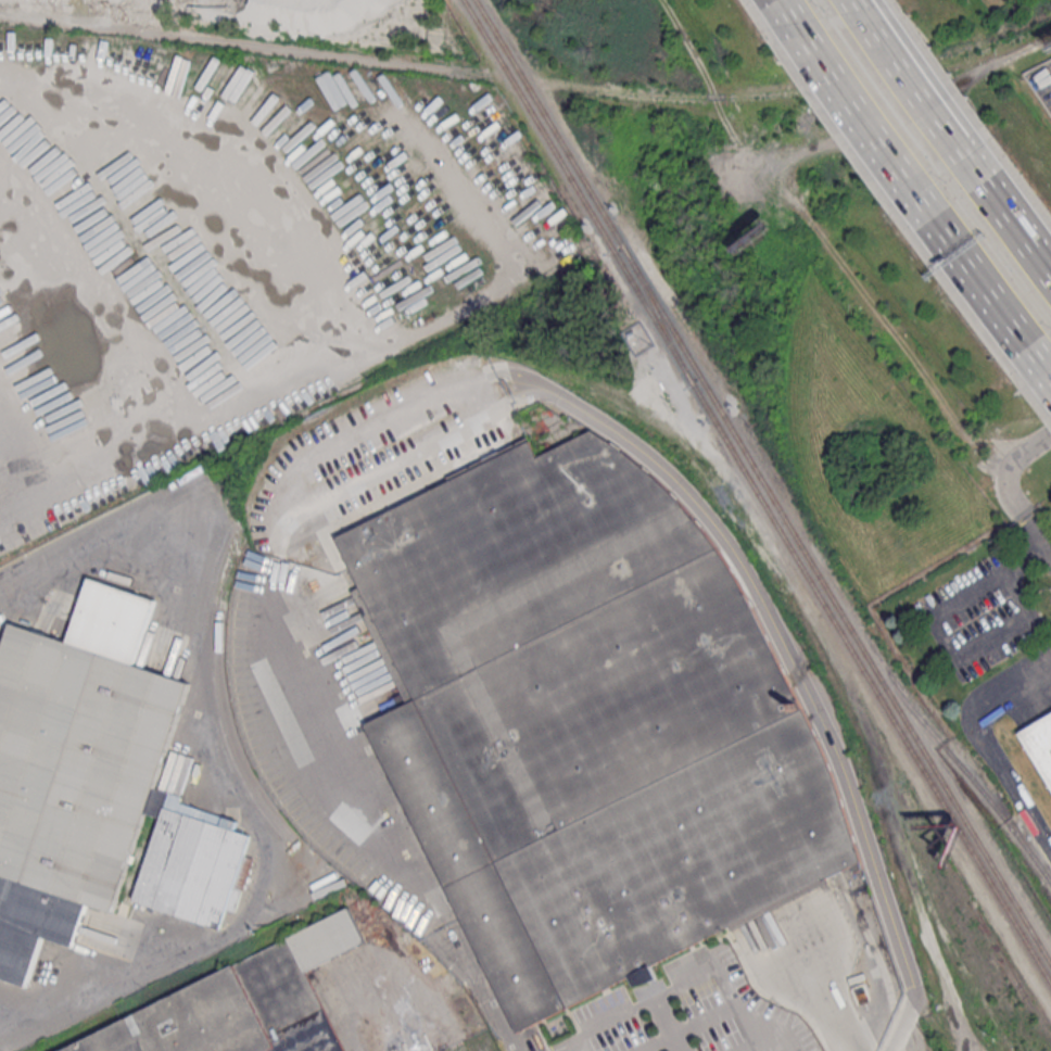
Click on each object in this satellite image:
road: (916, 91)
road: (860, 106)
railway: (550, 124)
road: (218, 156)
railway: (578, 191)
road: (1018, 227)
road: (985, 278)
railway: (661, 315)
road: (63, 327)
road: (344, 351)
road: (1041, 355)
road: (1010, 470)
road: (20, 481)
road: (1038, 537)
road: (84, 555)
railway: (837, 604)
road: (773, 631)
road: (936, 637)
railway: (872, 681)
road: (1018, 683)
road: (331, 685)
building: (574, 713)
building: (1040, 747)
railway: (971, 774)
building: (76, 777)
building: (195, 875)
road: (692, 975)
building: (243, 1003)
road: (674, 1024)
road: (357, 1042)

